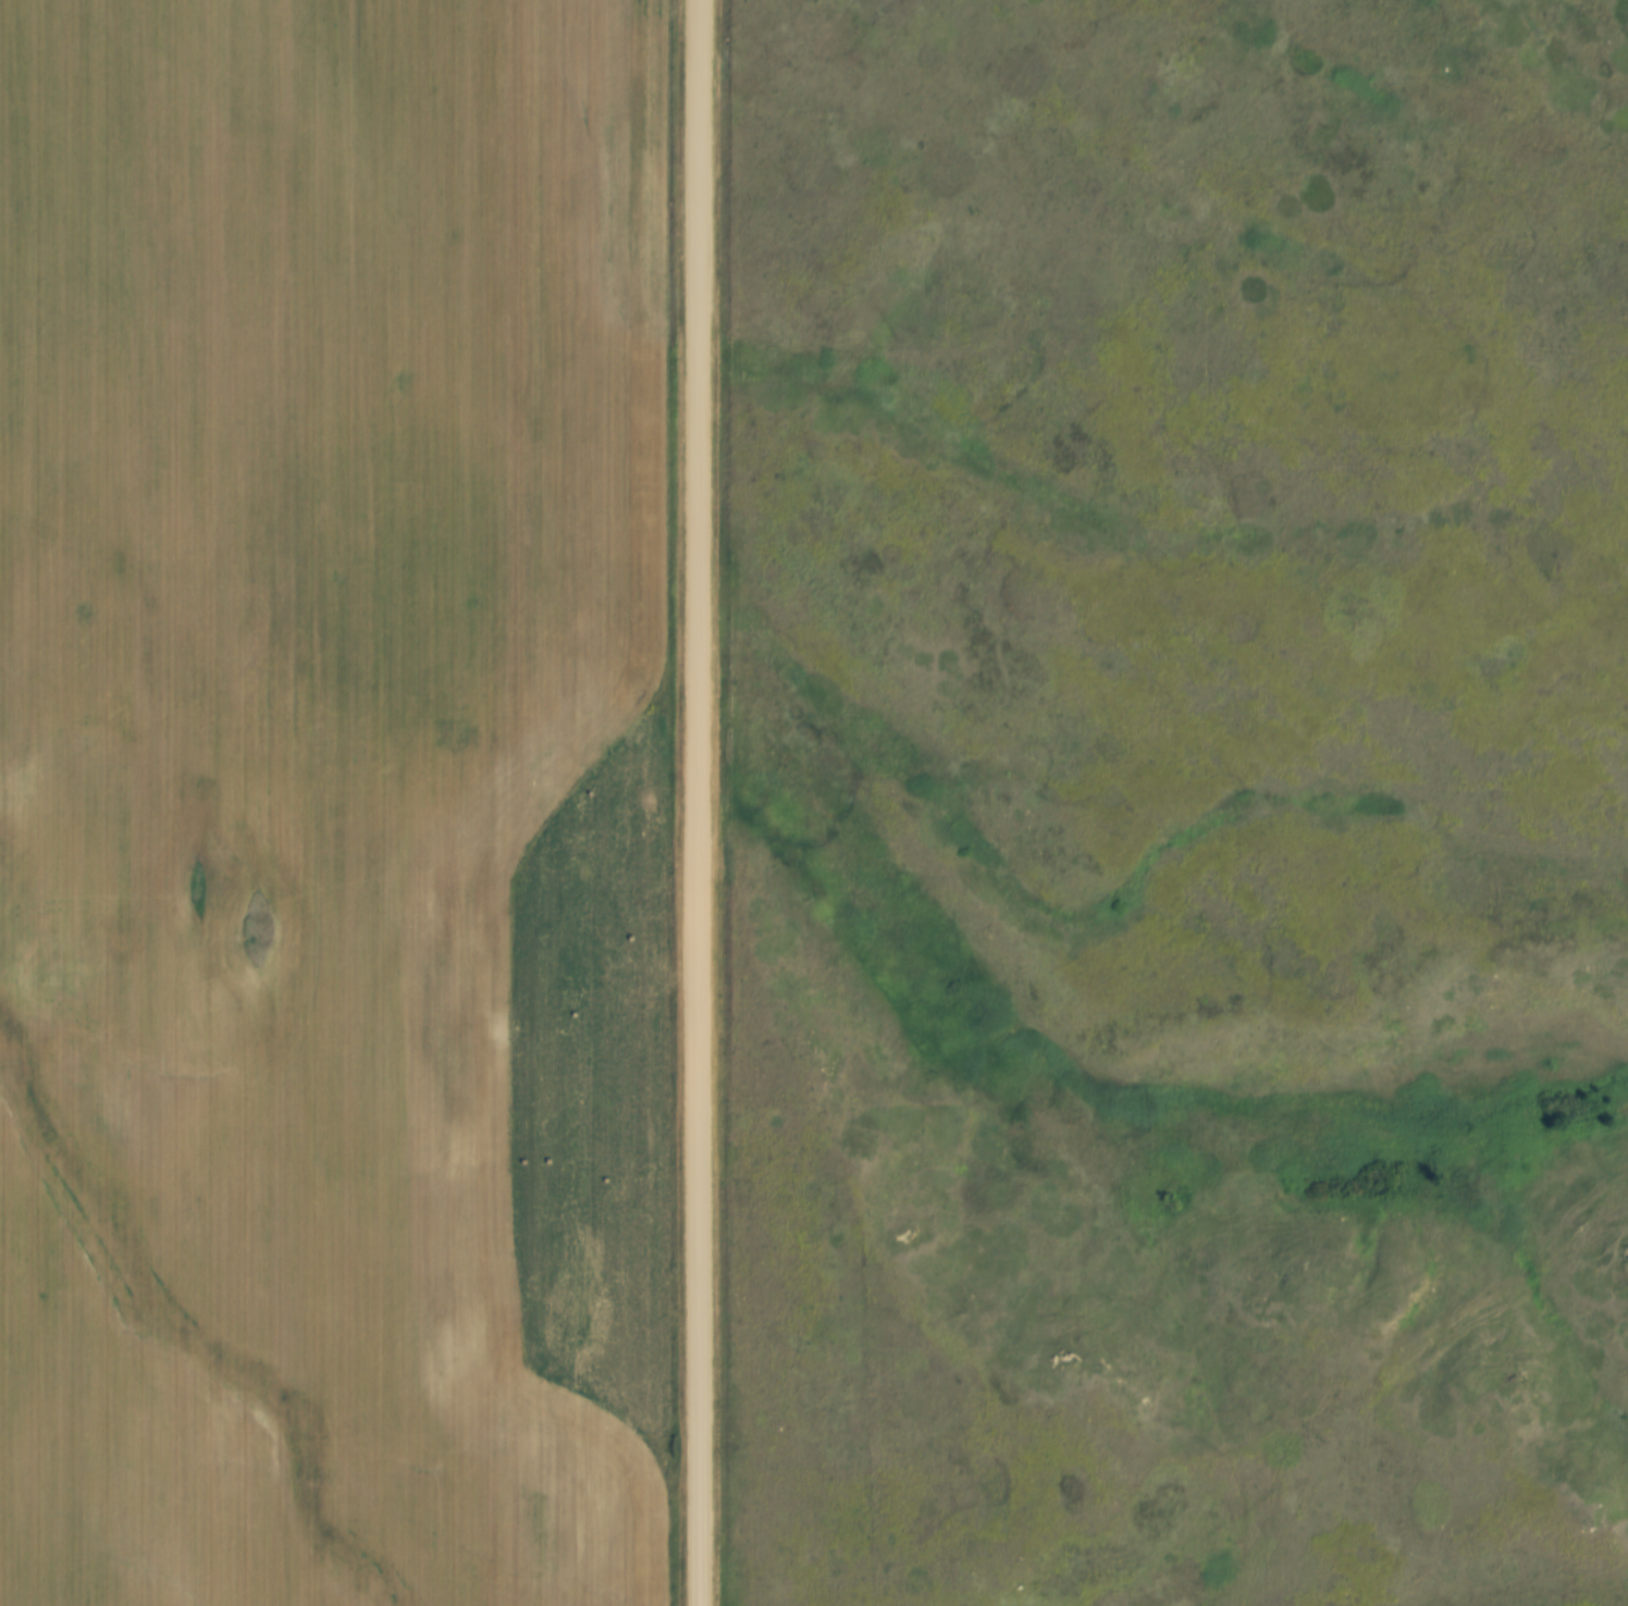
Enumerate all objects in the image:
road: (695, 802)

